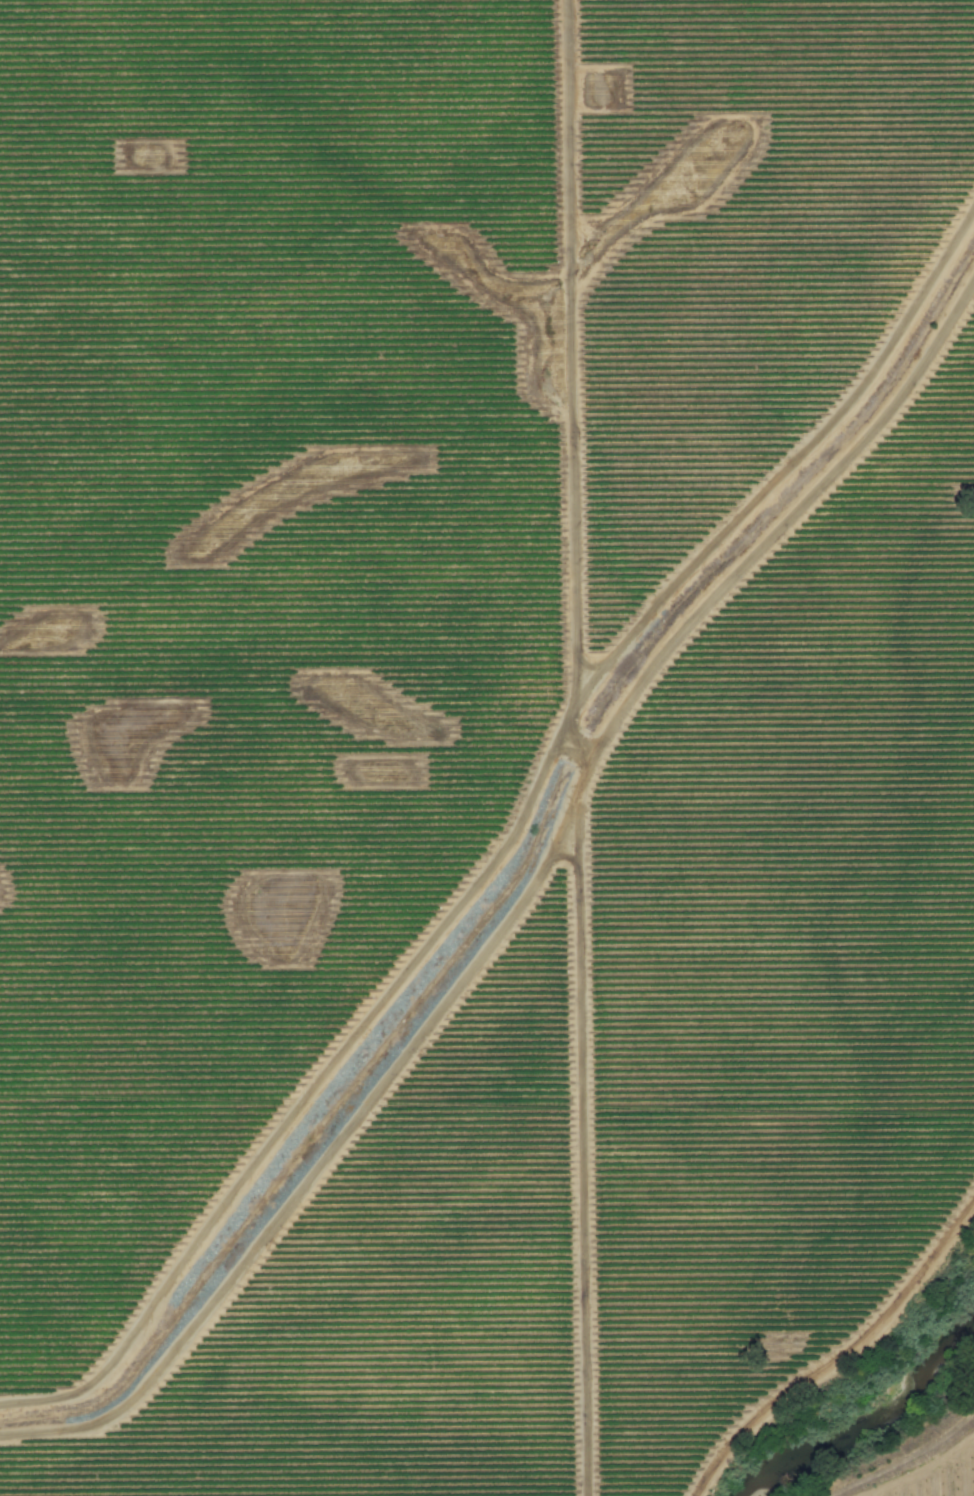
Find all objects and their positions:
crop: (665, 1156)

